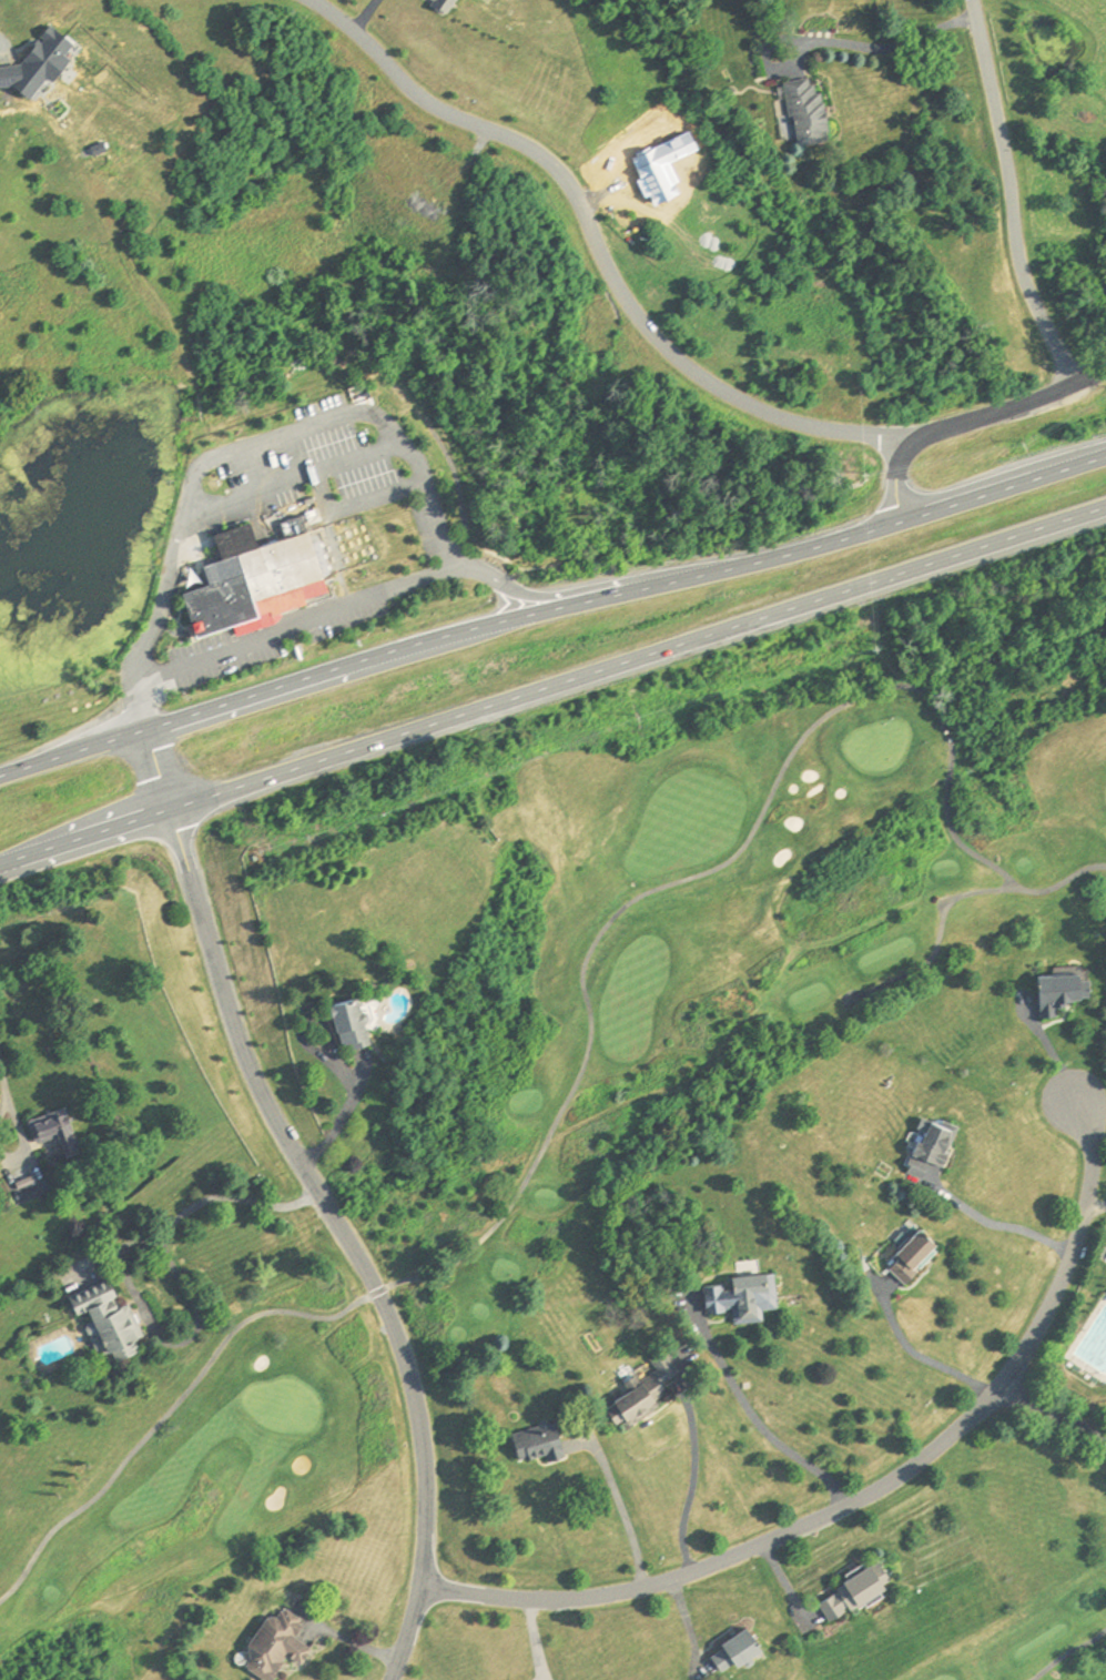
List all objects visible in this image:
road: (365, 16)
road: (889, 43)
building: (806, 112)
road: (1013, 194)
road: (595, 241)
building: (542, 324)
road: (963, 415)
road: (282, 436)
parking lot: (313, 467)
road: (294, 478)
road: (432, 513)
road: (428, 576)
building: (257, 580)
road: (579, 598)
road: (554, 618)
road: (155, 624)
road: (277, 632)
parking lot: (270, 639)
road: (154, 686)
road: (556, 691)
building: (1059, 993)
building: (349, 1025)
road: (8, 1097)
park: (571, 1122)
road: (339, 1124)
building: (54, 1132)
building: (931, 1152)
building: (23, 1183)
road: (323, 1202)
road: (199, 1206)
road: (1096, 1206)
road: (1000, 1225)
building: (912, 1258)
parking lot: (1104, 1261)
building: (741, 1299)
building: (105, 1323)
road: (185, 1340)
road: (920, 1356)
park: (1072, 1365)
building: (637, 1404)
road: (1048, 1416)
road: (758, 1423)
building: (538, 1446)
road: (690, 1482)
road: (874, 1495)
road: (623, 1514)
building: (850, 1597)
park: (1035, 1639)
building: (274, 1648)
building: (734, 1654)

